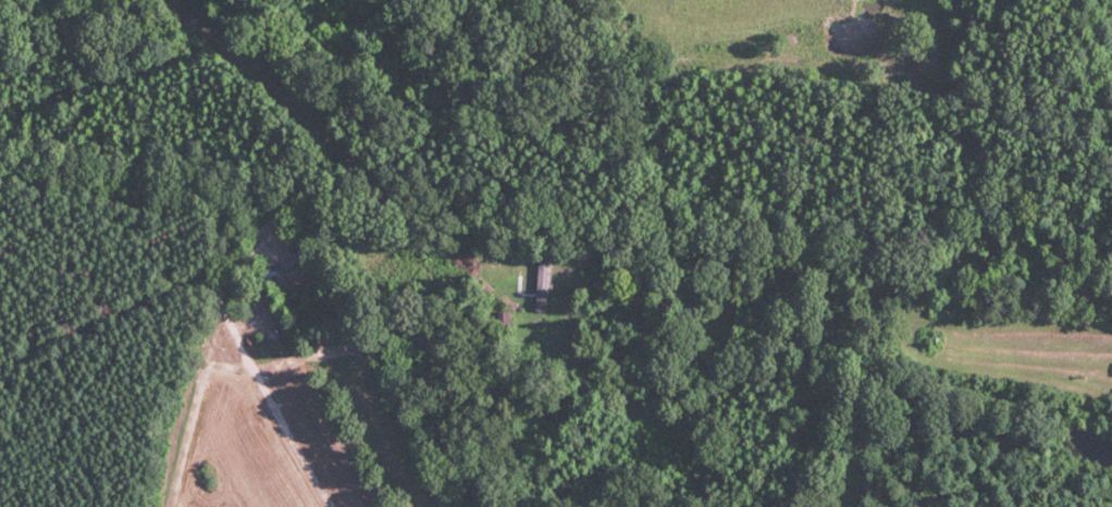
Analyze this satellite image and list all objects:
road: (556, 196)
building: (521, 275)

